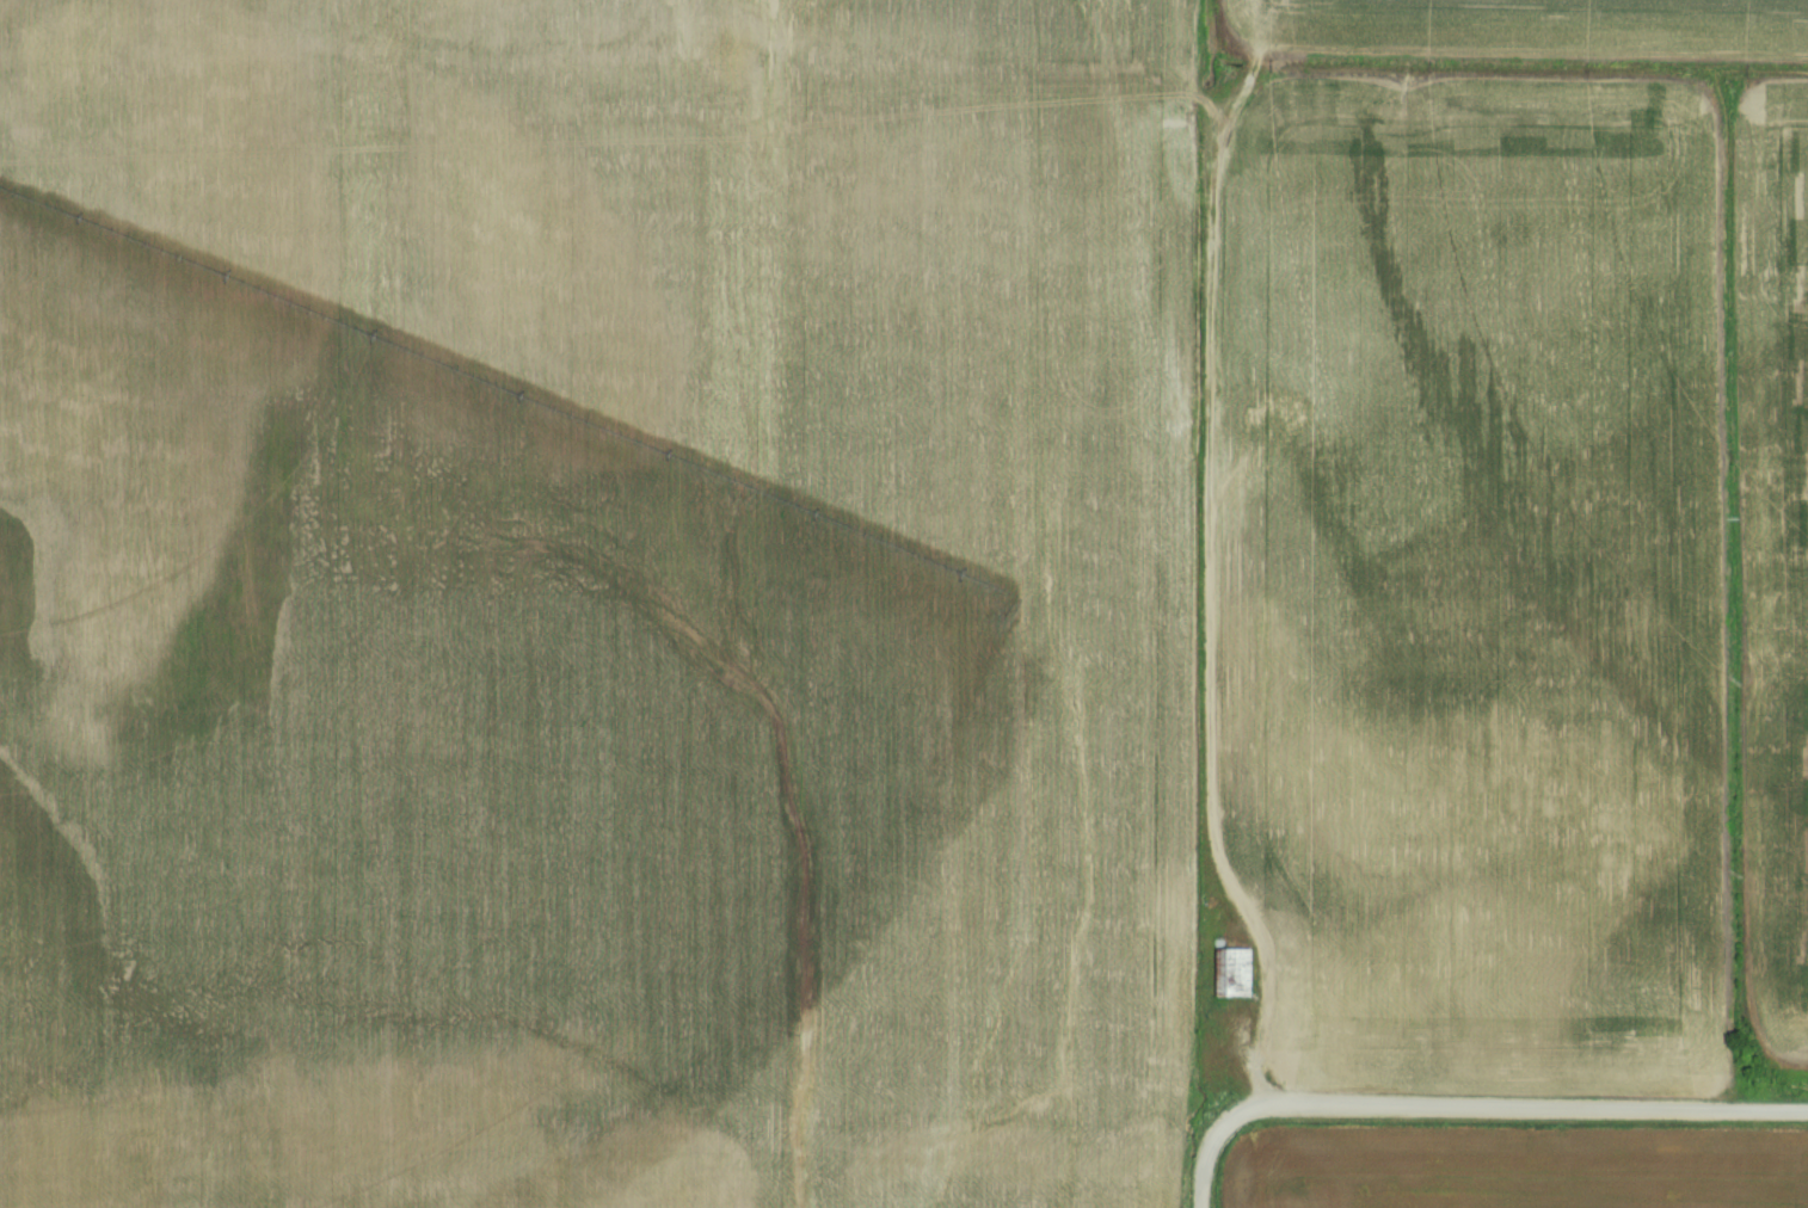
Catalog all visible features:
building: (1238, 973)
road: (1471, 1107)

